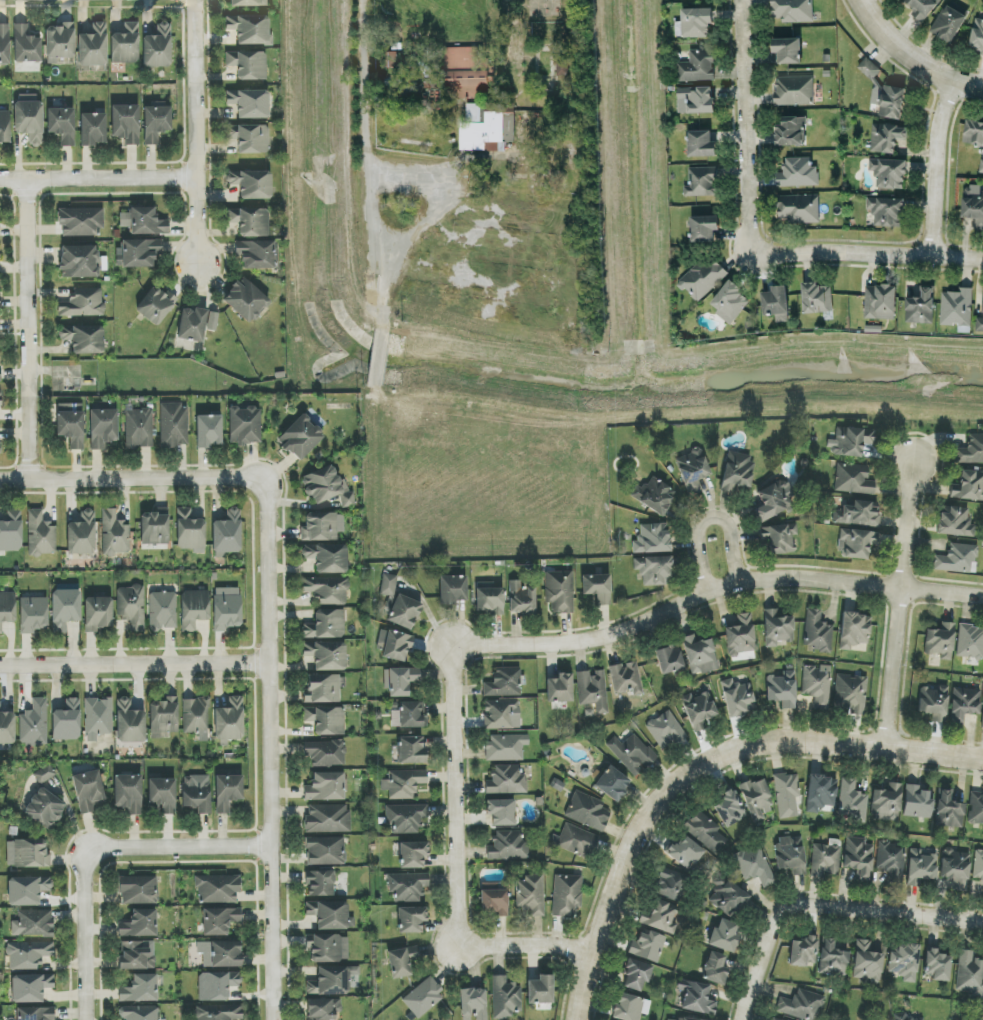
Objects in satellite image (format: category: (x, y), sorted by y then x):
building: (246, 3)
building: (921, 7)
building: (792, 9)
building: (693, 21)
building: (947, 21)
building: (250, 29)
building: (976, 33)
building: (59, 42)
building: (4, 44)
building: (26, 45)
building: (125, 45)
building: (93, 46)
building: (157, 48)
building: (786, 48)
building: (463, 56)
building: (388, 57)
road: (910, 58)
building: (561, 59)
building: (697, 64)
building: (248, 65)
building: (867, 66)
building: (466, 82)
building: (793, 88)
building: (694, 97)
building: (891, 100)
building: (249, 103)
building: (29, 119)
building: (126, 124)
building: (156, 124)
building: (62, 126)
building: (5, 127)
road: (744, 127)
building: (92, 129)
building: (790, 129)
building: (487, 130)
building: (973, 131)
road: (196, 134)
building: (886, 135)
building: (251, 139)
building: (700, 141)
road: (367, 147)
building: (981, 165)
road: (936, 167)
building: (797, 170)
building: (888, 171)
building: (701, 179)
road: (98, 183)
building: (252, 184)
building: (973, 203)
building: (798, 206)
building: (886, 209)
building: (143, 221)
building: (250, 221)
building: (81, 222)
building: (703, 226)
road: (869, 252)
building: (140, 253)
building: (255, 255)
building: (79, 262)
building: (702, 276)
building: (815, 295)
building: (729, 299)
building: (245, 300)
building: (879, 300)
building: (981, 300)
building: (775, 301)
building: (83, 303)
building: (155, 305)
building: (919, 305)
building: (956, 307)
building: (979, 322)
building: (196, 324)
road: (29, 332)
building: (84, 339)
building: (0, 399)
building: (71, 424)
building: (173, 426)
building: (244, 426)
building: (138, 428)
building: (209, 431)
building: (301, 437)
building: (850, 441)
building: (971, 450)
building: (692, 471)
building: (737, 471)
road: (131, 479)
building: (853, 479)
building: (968, 486)
building: (326, 487)
building: (656, 497)
building: (774, 500)
building: (858, 514)
road: (709, 520)
building: (954, 522)
building: (322, 527)
building: (154, 529)
building: (190, 531)
building: (11, 532)
building: (114, 534)
building: (227, 534)
building: (40, 535)
building: (82, 535)
building: (779, 538)
building: (652, 539)
building: (856, 543)
building: (327, 558)
building: (956, 558)
building: (654, 570)
building: (388, 585)
building: (597, 588)
building: (453, 590)
road: (712, 590)
building: (327, 591)
building: (559, 591)
building: (488, 598)
building: (521, 599)
building: (132, 607)
road: (898, 608)
building: (7, 609)
building: (65, 609)
building: (193, 609)
building: (226, 609)
building: (162, 611)
building: (403, 611)
building: (98, 613)
building: (33, 614)
building: (325, 625)
building: (776, 628)
building: (853, 630)
building: (817, 632)
building: (740, 636)
building: (940, 642)
building: (970, 642)
building: (395, 645)
building: (326, 655)
building: (699, 655)
building: (669, 659)
road: (134, 667)
building: (625, 679)
building: (399, 681)
building: (504, 683)
building: (817, 685)
building: (324, 688)
building: (559, 689)
building: (782, 689)
building: (593, 691)
building: (850, 694)
building: (737, 698)
building: (933, 703)
building: (964, 704)
building: (698, 710)
building: (501, 714)
building: (407, 715)
building: (163, 717)
building: (196, 717)
building: (98, 718)
building: (325, 720)
building: (67, 721)
building: (229, 721)
building: (130, 723)
building: (982, 723)
building: (34, 724)
building: (7, 728)
building: (665, 730)
building: (506, 747)
road: (268, 750)
building: (411, 750)
building: (632, 753)
building: (324, 754)
road: (699, 769)
building: (506, 779)
building: (403, 782)
building: (612, 784)
building: (325, 787)
building: (88, 790)
building: (227, 792)
building: (128, 794)
building: (196, 794)
building: (821, 794)
building: (162, 795)
building: (787, 795)
building: (756, 799)
building: (45, 801)
building: (852, 801)
building: (886, 803)
building: (917, 803)
building: (728, 808)
building: (501, 809)
building: (976, 809)
building: (948, 810)
building: (588, 813)
building: (405, 816)
building: (327, 817)
building: (706, 833)
building: (576, 841)
building: (507, 844)
road: (176, 849)
building: (325, 849)
building: (412, 852)
building: (685, 852)
building: (27, 854)
building: (790, 855)
building: (858, 858)
building: (825, 860)
building: (891, 862)
road: (456, 865)
building: (754, 866)
building: (978, 867)
building: (920, 868)
building: (955, 869)
building: (320, 883)
building: (670, 884)
building: (407, 885)
building: (217, 889)
building: (26, 890)
building: (138, 890)
building: (531, 893)
building: (566, 895)
building: (727, 898)
building: (494, 899)
road: (826, 911)
building: (328, 915)
building: (410, 916)
building: (660, 917)
building: (219, 921)
building: (33, 923)
building: (139, 924)
road: (84, 935)
building: (725, 936)
building: (647, 946)
building: (328, 948)
building: (804, 951)
building: (222, 954)
building: (28, 955)
building: (135, 956)
building: (400, 959)
building: (832, 959)
building: (903, 961)
building: (867, 962)
building: (936, 965)
building: (715, 969)
building: (969, 974)
building: (636, 975)
building: (329, 981)
building: (217, 985)
building: (30, 987)
building: (140, 989)
building: (540, 990)
building: (423, 997)
building: (505, 998)
building: (696, 998)
building: (473, 1004)
building: (801, 1005)
building: (630, 1008)
building: (322, 1009)
building: (982, 1011)
building: (35, 1012)
building: (219, 1012)
building: (138, 1013)
building: (900, 1016)
building: (675, 1019)
building: (919, 1019)

